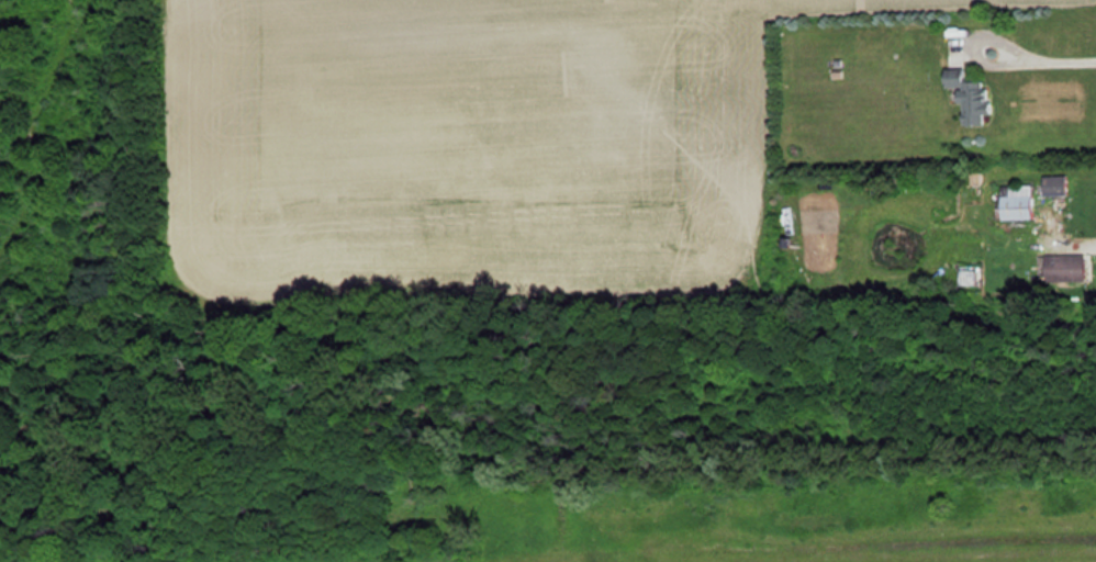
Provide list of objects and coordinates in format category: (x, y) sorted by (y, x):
road: (1038, 53)
building: (965, 98)
building: (1053, 186)
building: (1015, 202)
building: (1063, 268)

